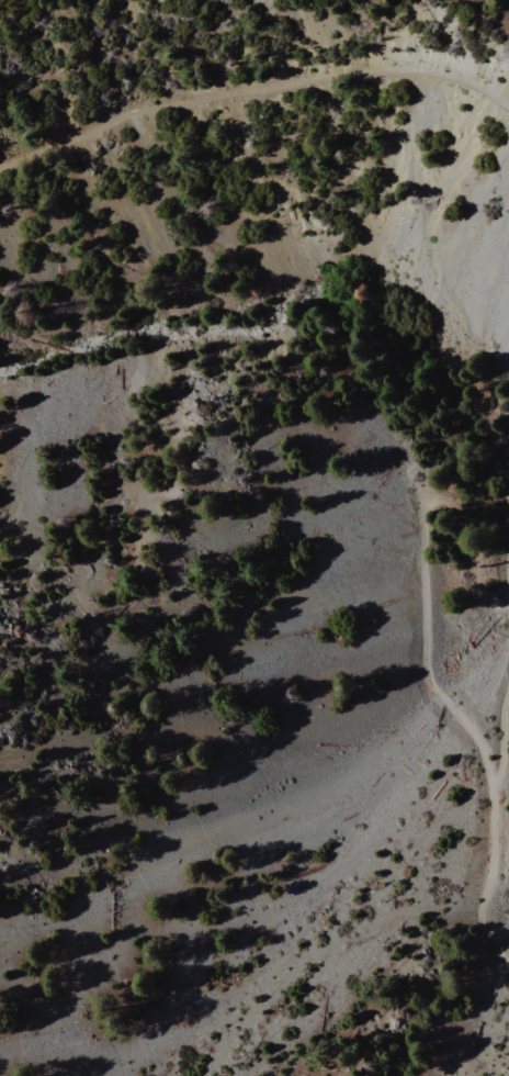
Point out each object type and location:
road: (253, 90)

